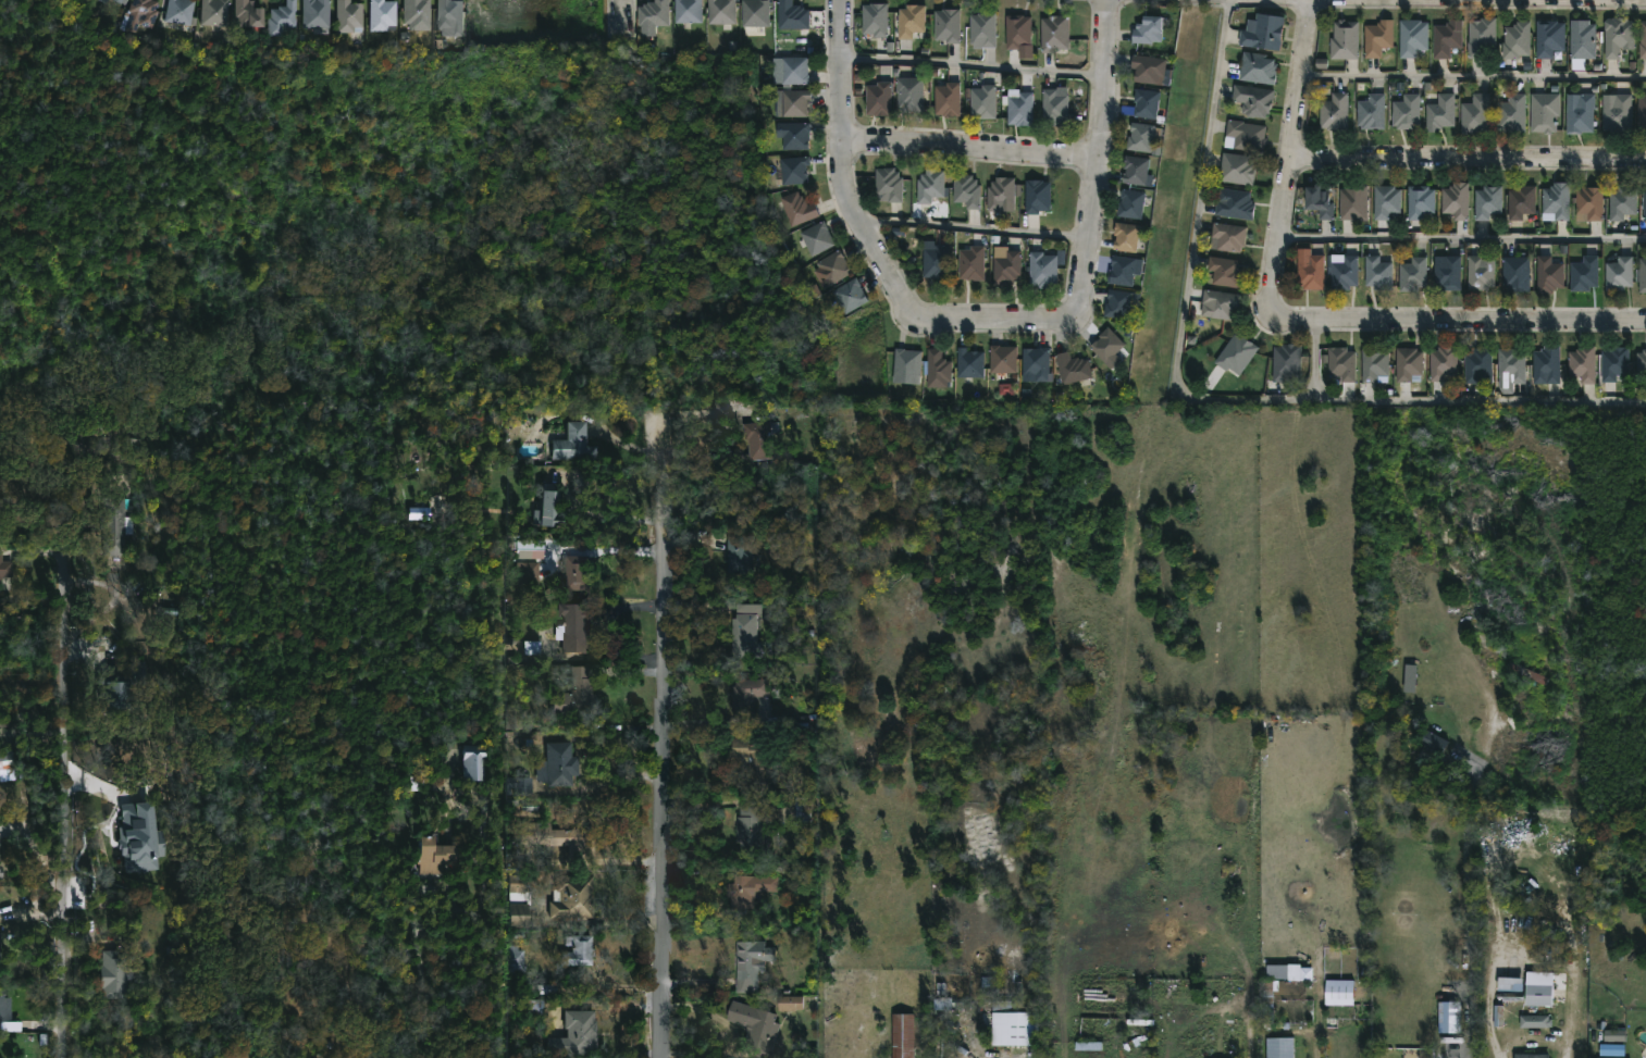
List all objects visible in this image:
building: (109, 1)
building: (125, 1)
building: (413, 11)
building: (688, 11)
building: (720, 11)
building: (219, 12)
building: (184, 13)
building: (317, 13)
building: (653, 13)
building: (754, 13)
building: (147, 14)
building: (253, 14)
building: (379, 14)
road: (621, 14)
building: (347, 16)
building: (448, 16)
building: (792, 16)
building: (287, 18)
building: (874, 20)
building: (911, 21)
building: (946, 26)
building: (982, 30)
building: (1017, 30)
building: (1147, 30)
building: (1262, 33)
building: (1053, 34)
building: (1618, 37)
building: (1377, 38)
building: (1412, 38)
building: (1481, 38)
building: (1549, 38)
building: (1447, 39)
building: (1344, 40)
building: (1583, 40)
building: (1643, 40)
building: (1517, 41)
road: (970, 65)
building: (1258, 69)
building: (1147, 70)
building: (791, 71)
road: (1475, 76)
building: (909, 95)
building: (877, 100)
building: (948, 100)
building: (1253, 100)
building: (791, 101)
building: (982, 102)
building: (1146, 103)
building: (1054, 108)
building: (1019, 110)
building: (1372, 112)
building: (1407, 112)
building: (1334, 113)
building: (1439, 113)
building: (1545, 113)
building: (1618, 113)
building: (1511, 114)
building: (1476, 115)
building: (1582, 115)
building: (1642, 115)
building: (1243, 135)
building: (794, 136)
building: (1140, 138)
road: (969, 149)
road: (1296, 159)
road: (1098, 161)
road: (1470, 164)
building: (1237, 170)
building: (793, 171)
building: (1135, 171)
building: (888, 186)
building: (929, 187)
building: (966, 191)
building: (1000, 194)
building: (1037, 197)
building: (1456, 201)
building: (1557, 201)
building: (1319, 202)
building: (1385, 202)
building: (1420, 202)
building: (1488, 202)
building: (1522, 202)
building: (1353, 203)
building: (1591, 203)
building: (1623, 203)
building: (1130, 204)
building: (1234, 204)
building: (1644, 208)
building: (795, 209)
road: (969, 229)
building: (1228, 236)
road: (1464, 237)
building: (816, 238)
building: (1125, 238)
road: (863, 242)
building: (936, 262)
building: (969, 264)
building: (832, 267)
building: (1006, 269)
building: (1043, 271)
building: (1122, 272)
building: (1378, 272)
building: (1224, 273)
building: (1448, 273)
building: (1311, 274)
building: (1345, 274)
building: (1413, 274)
building: (1480, 274)
building: (1515, 274)
building: (1584, 274)
building: (1620, 274)
building: (1549, 276)
building: (1642, 276)
building: (849, 296)
building: (1117, 306)
building: (1220, 306)
road: (1461, 328)
building: (1106, 346)
building: (1236, 354)
building: (1003, 360)
building: (1286, 362)
building: (1444, 362)
building: (1548, 362)
building: (1037, 363)
building: (1341, 363)
building: (1374, 363)
building: (1408, 363)
building: (1583, 363)
building: (1614, 363)
building: (1642, 363)
building: (907, 364)
building: (969, 364)
road: (1314, 364)
building: (1478, 364)
building: (1511, 365)
building: (1072, 368)
building: (938, 370)
road: (1213, 400)
building: (758, 438)
building: (566, 440)
building: (541, 507)
road: (615, 521)
building: (116, 525)
building: (530, 549)
road: (612, 551)
building: (738, 553)
building: (7, 568)
building: (524, 572)
building: (572, 573)
building: (743, 624)
building: (571, 626)
building: (533, 647)
building: (139, 671)
building: (1410, 679)
road: (34, 682)
building: (121, 695)
building: (742, 696)
building: (573, 697)
building: (1435, 744)
road: (669, 745)
building: (754, 760)
building: (468, 761)
building: (556, 764)
building: (13, 768)
building: (518, 785)
road: (98, 813)
road: (69, 823)
building: (750, 827)
building: (140, 837)
building: (550, 838)
building: (2, 855)
building: (433, 856)
building: (515, 885)
building: (747, 889)
building: (573, 897)
building: (0, 910)
building: (513, 916)
building: (1, 942)
building: (577, 950)
building: (512, 960)
building: (750, 964)
building: (1289, 973)
building: (119, 974)
road: (423, 974)
building: (1511, 984)
building: (1275, 991)
building: (1338, 993)
building: (1538, 995)
building: (1512, 997)
building: (1267, 1003)
building: (791, 1004)
building: (5, 1009)
building: (1449, 1018)
building: (1535, 1021)
building: (754, 1024)
building: (1015, 1030)
building: (573, 1034)
building: (902, 1035)
building: (1614, 1036)
building: (1217, 1041)
building: (1088, 1046)
building: (1279, 1048)
building: (231, 1056)
road: (1024, 1056)
building: (1531, 1056)
building: (246, 1057)

